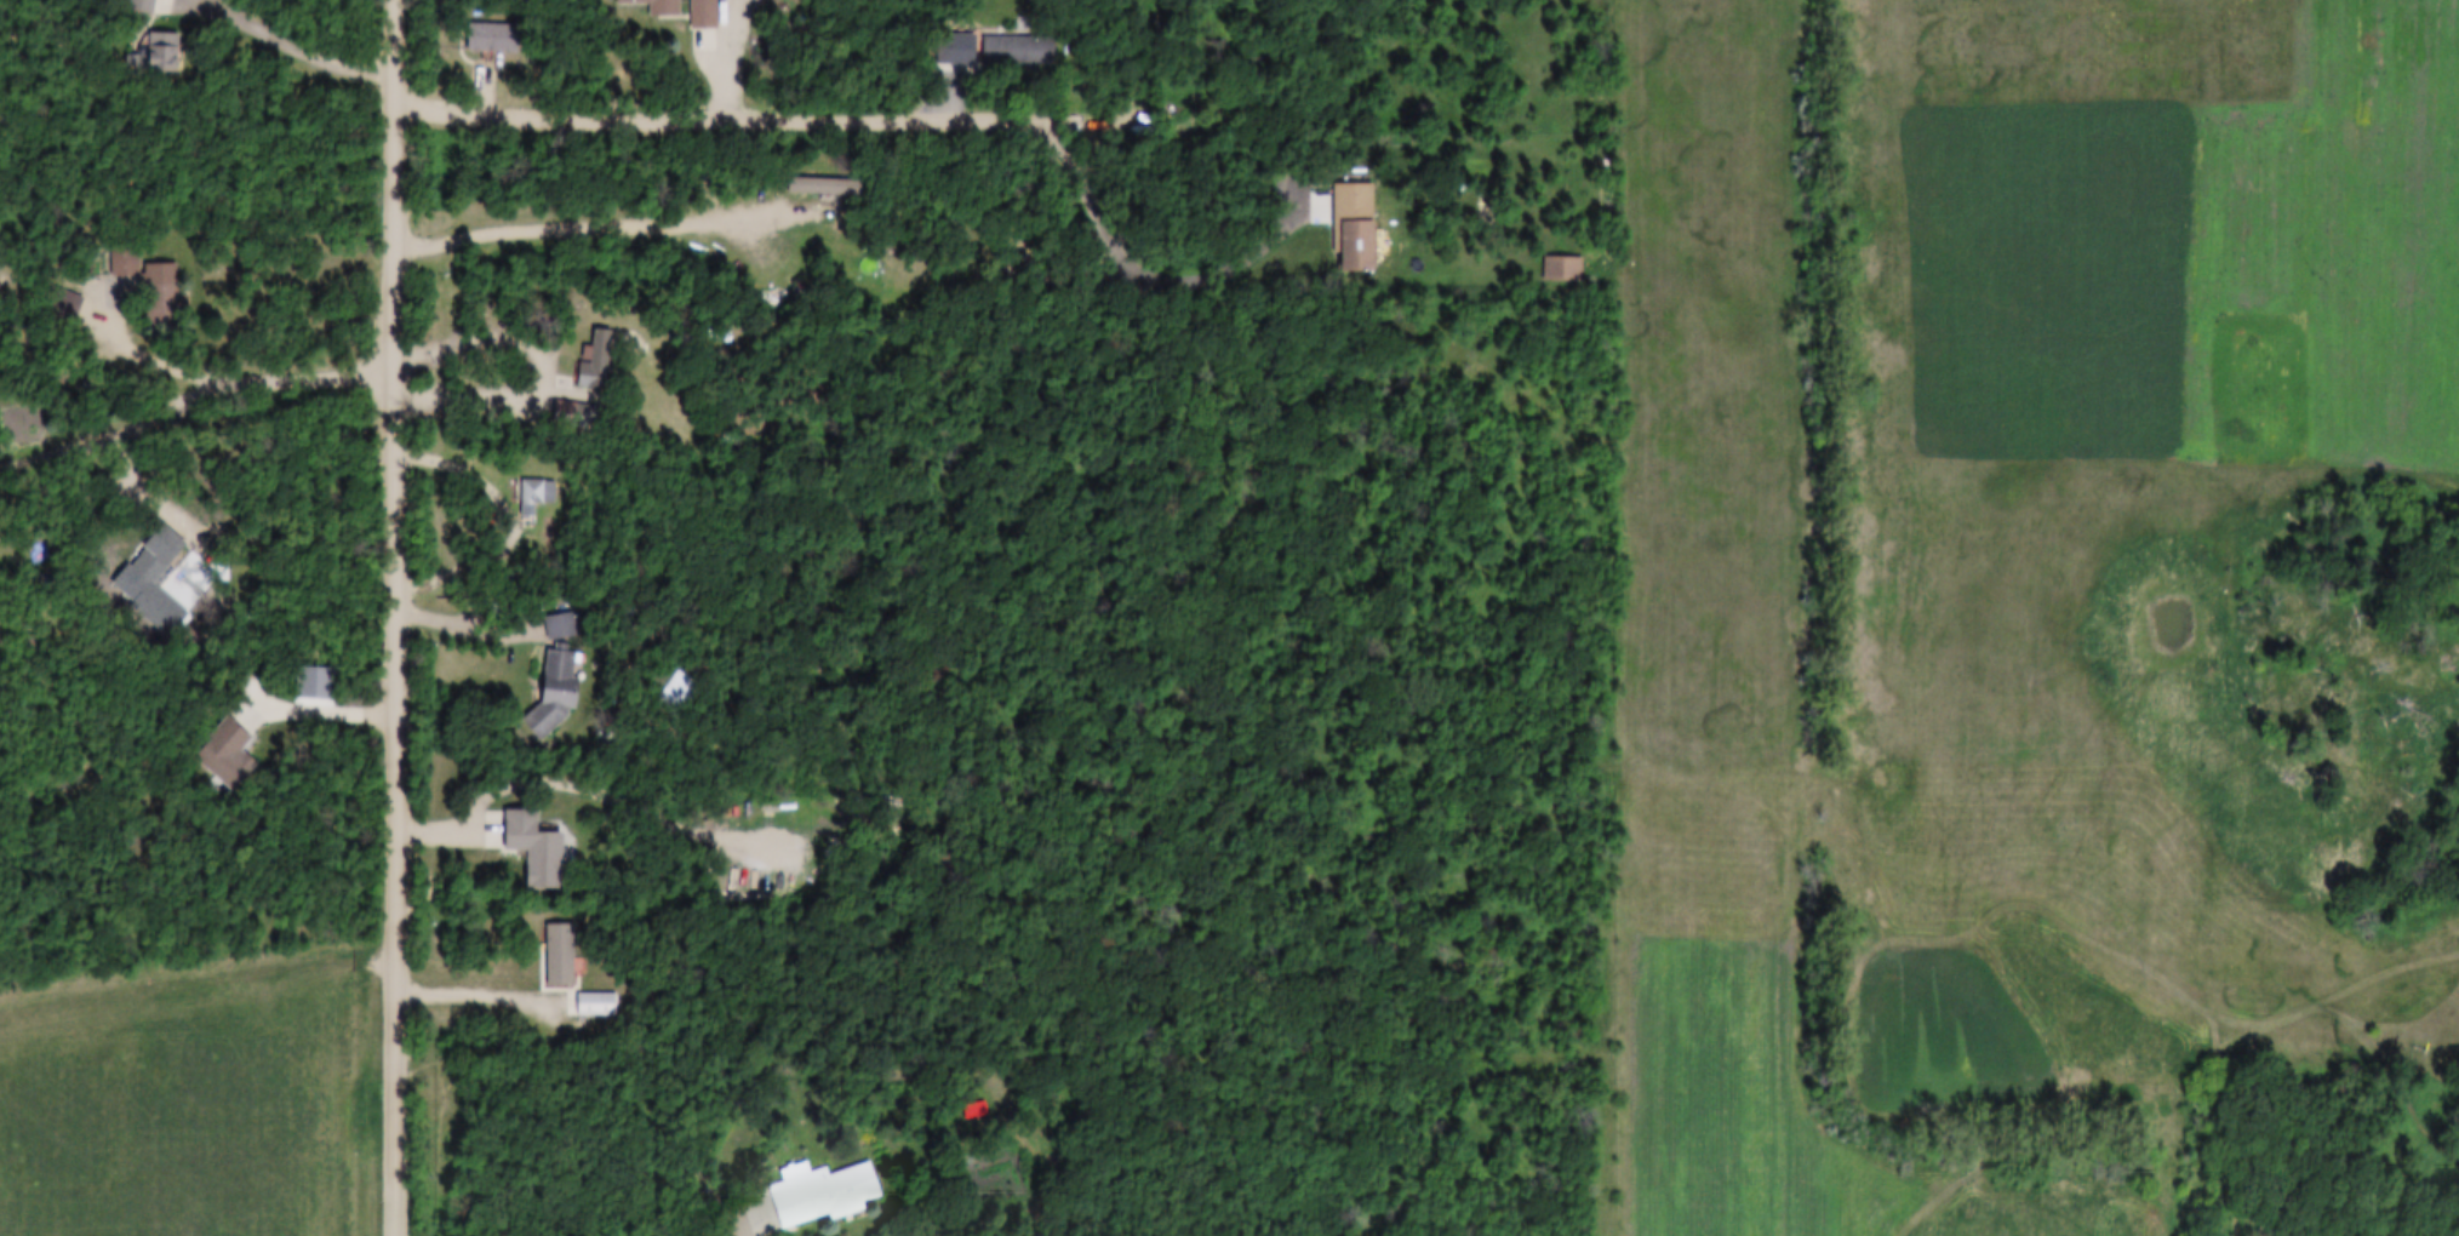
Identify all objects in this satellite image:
building: (654, 6)
building: (142, 7)
building: (702, 25)
building: (492, 39)
road: (298, 42)
building: (955, 48)
building: (1018, 51)
building: (156, 55)
road: (736, 119)
building: (820, 187)
road: (572, 224)
building: (160, 303)
building: (64, 304)
building: (595, 364)
road: (225, 373)
building: (572, 413)
building: (538, 494)
building: (155, 556)
road: (401, 617)
building: (560, 625)
building: (555, 688)
building: (225, 755)
building: (533, 849)
building: (571, 975)
building: (817, 1189)

